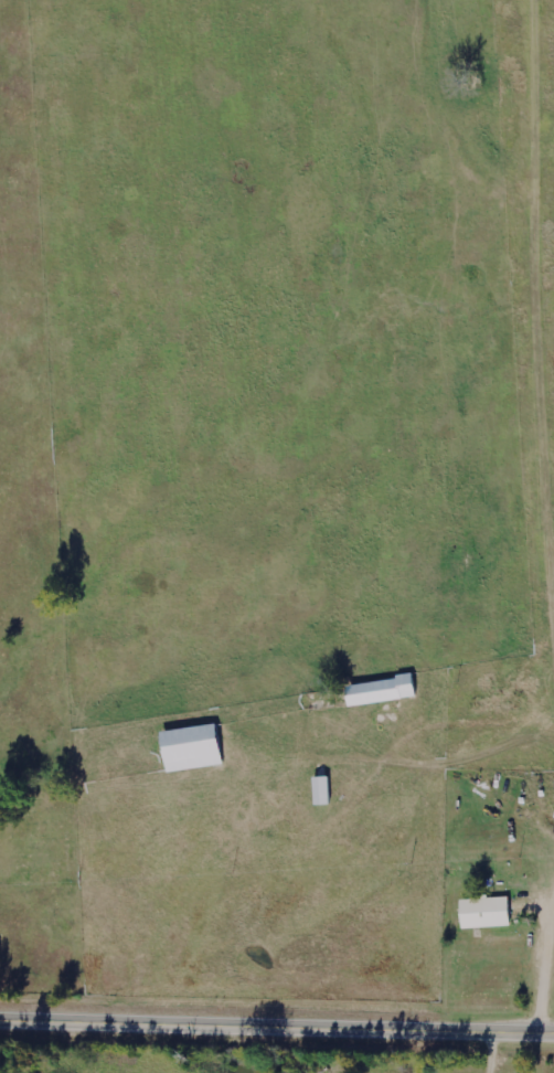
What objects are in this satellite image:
building: (385, 691)
building: (196, 747)
building: (326, 790)
building: (489, 912)
road: (277, 1027)

